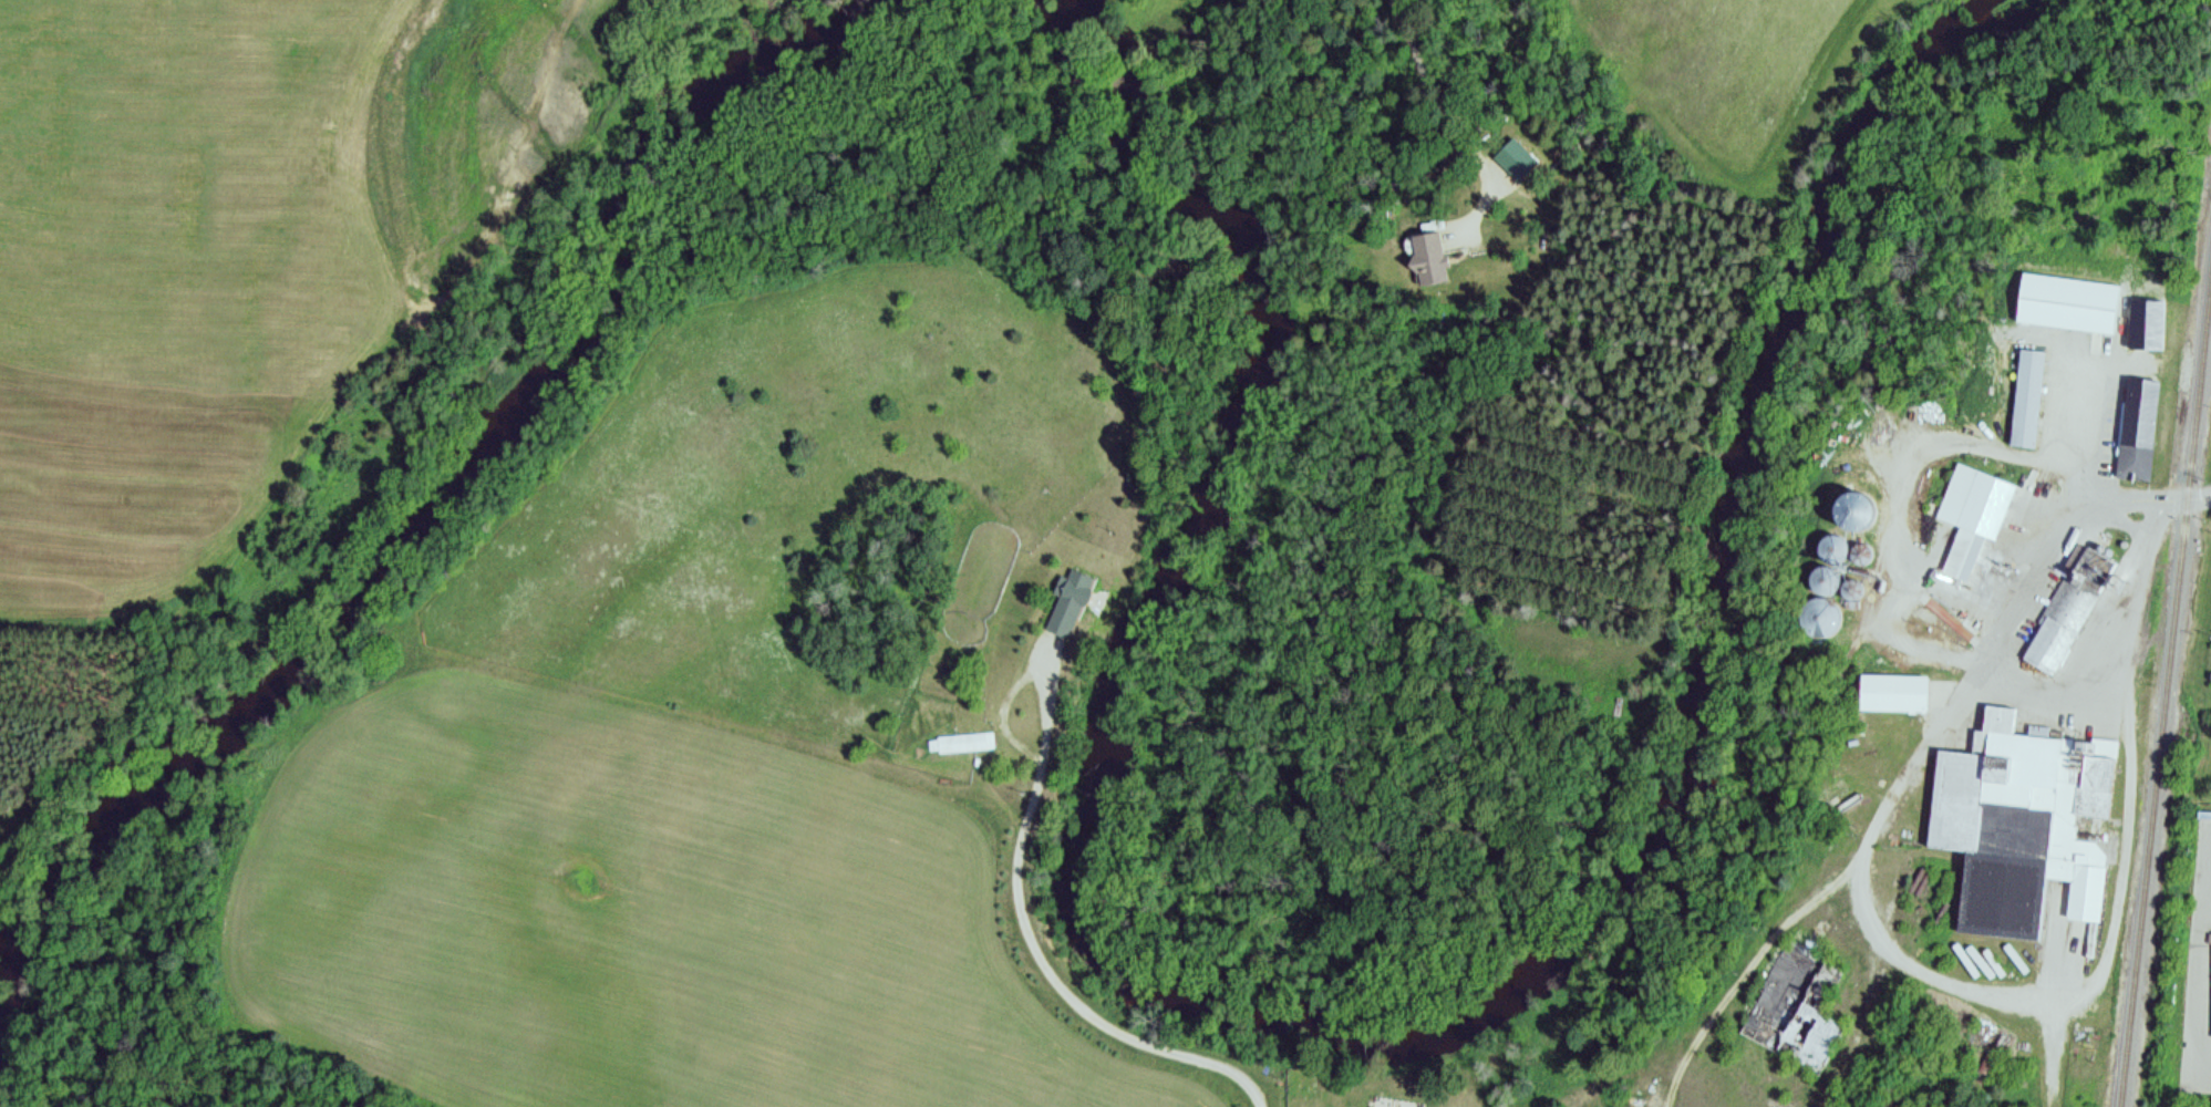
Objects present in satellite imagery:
river: (1099, 24)
building: (1429, 250)
building: (2143, 318)
building: (2026, 392)
building: (2135, 424)
road: (1905, 464)
building: (1972, 509)
river: (431, 525)
building: (1832, 550)
building: (1823, 582)
road: (2028, 588)
building: (1068, 593)
road: (1867, 599)
building: (2068, 603)
building: (1915, 649)
building: (2209, 672)
railway: (2162, 680)
building: (1894, 686)
building: (960, 744)
building: (1843, 788)
building: (2021, 816)
road: (2114, 894)
road: (2207, 898)
road: (1773, 930)
building: (2090, 946)
road: (2198, 954)
building: (1791, 1008)
river: (1384, 1020)
road: (1854, 1028)
road: (2049, 1055)
road: (1668, 1094)
building: (1380, 1105)
building: (1403, 1106)

